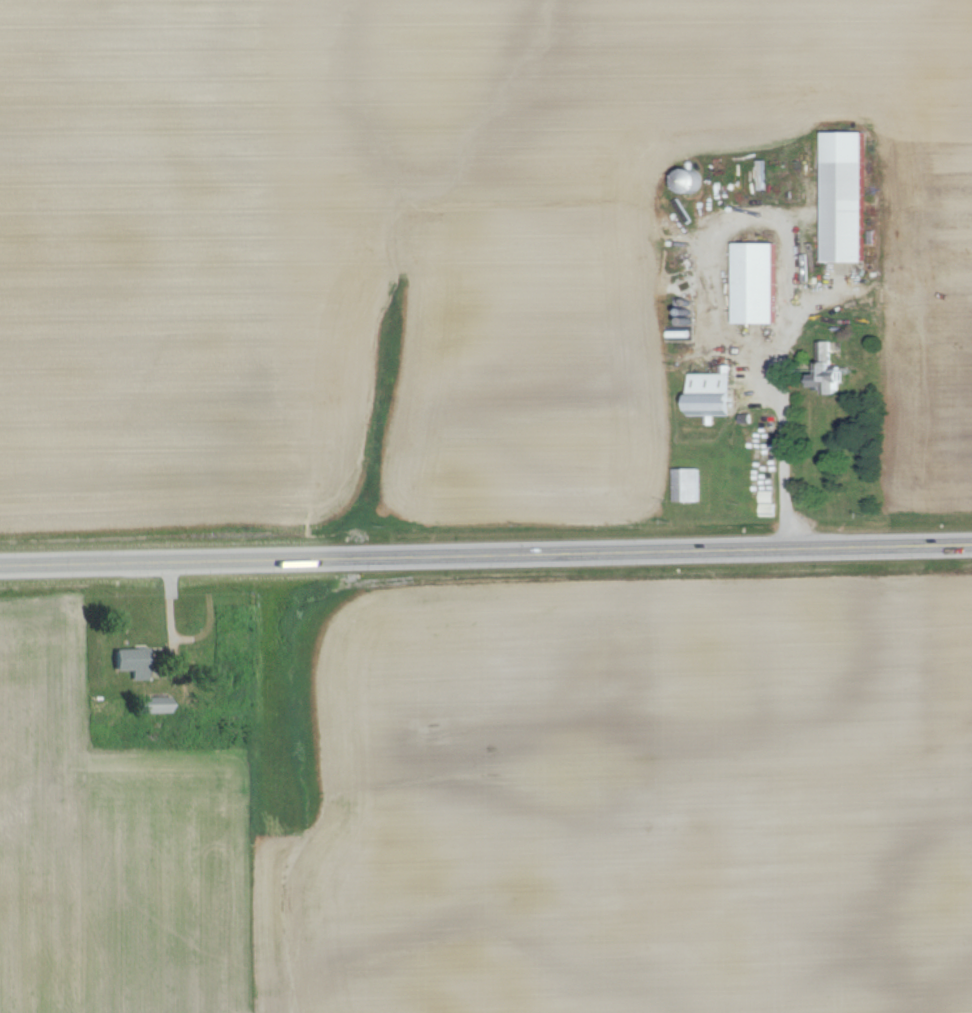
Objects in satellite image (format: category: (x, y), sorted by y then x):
silo: (687, 182)
building: (841, 196)
road: (799, 251)
building: (752, 283)
silo: (686, 312)
silo: (686, 320)
building: (823, 370)
building: (709, 395)
building: (684, 484)
building: (768, 502)
road: (485, 551)
building: (135, 661)
building: (156, 704)

